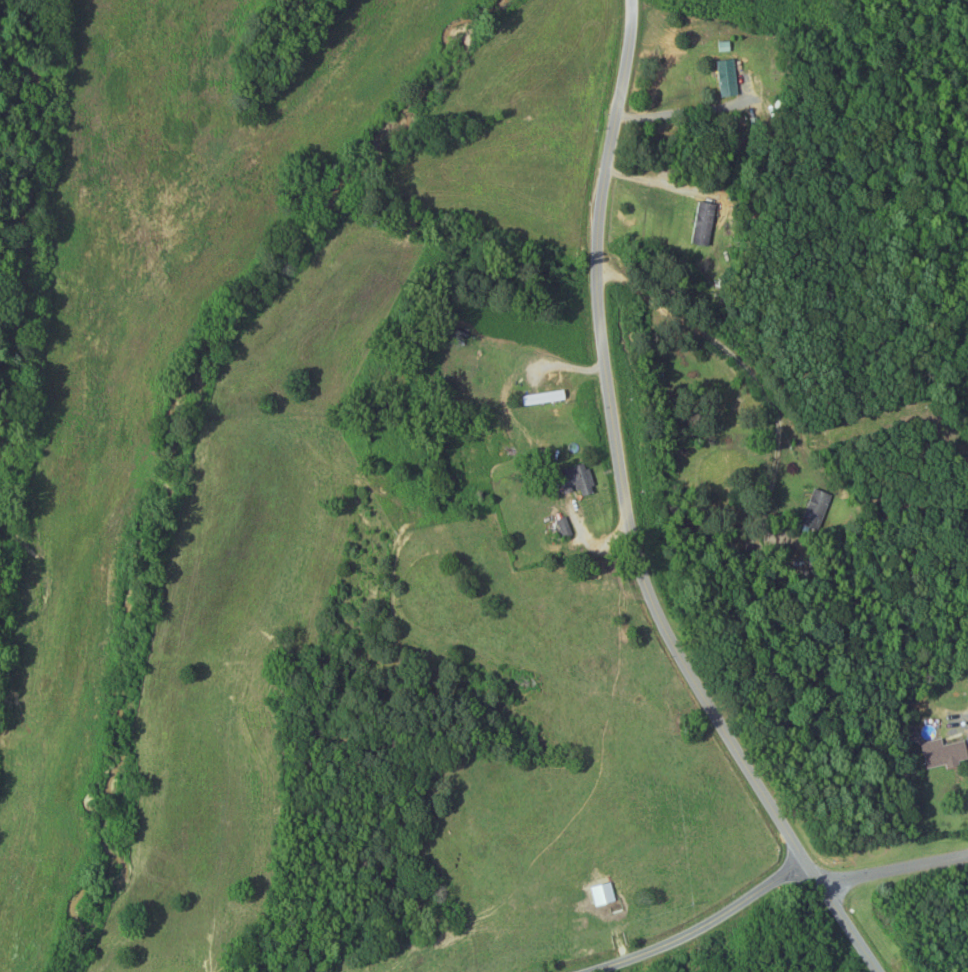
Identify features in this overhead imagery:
building: (729, 78)
building: (705, 224)
building: (549, 399)
building: (581, 481)
building: (818, 510)
road: (632, 516)
building: (605, 581)
building: (948, 755)
road: (771, 886)

